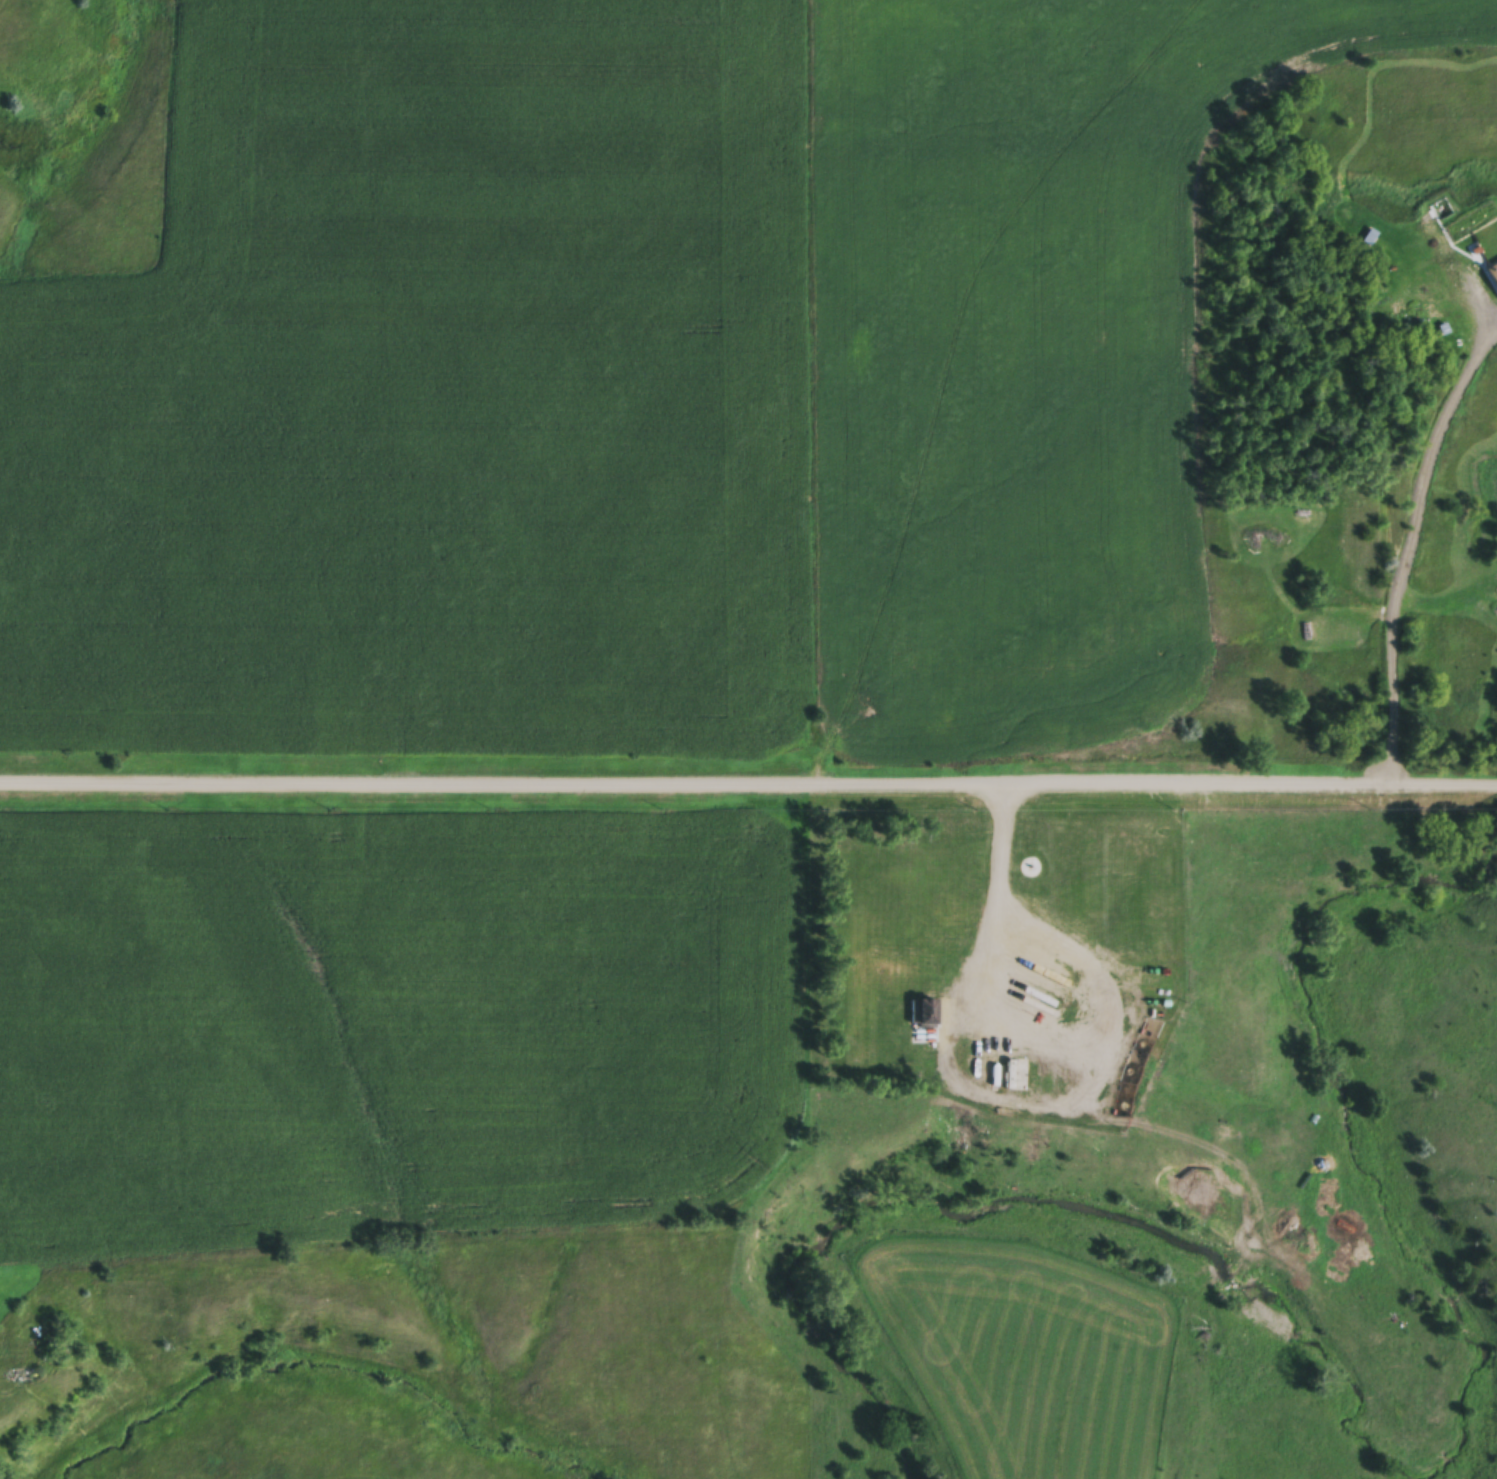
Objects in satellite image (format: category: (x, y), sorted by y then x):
road: (1490, 777)
road: (741, 778)
building: (1028, 867)
road: (998, 900)
building: (920, 1014)

